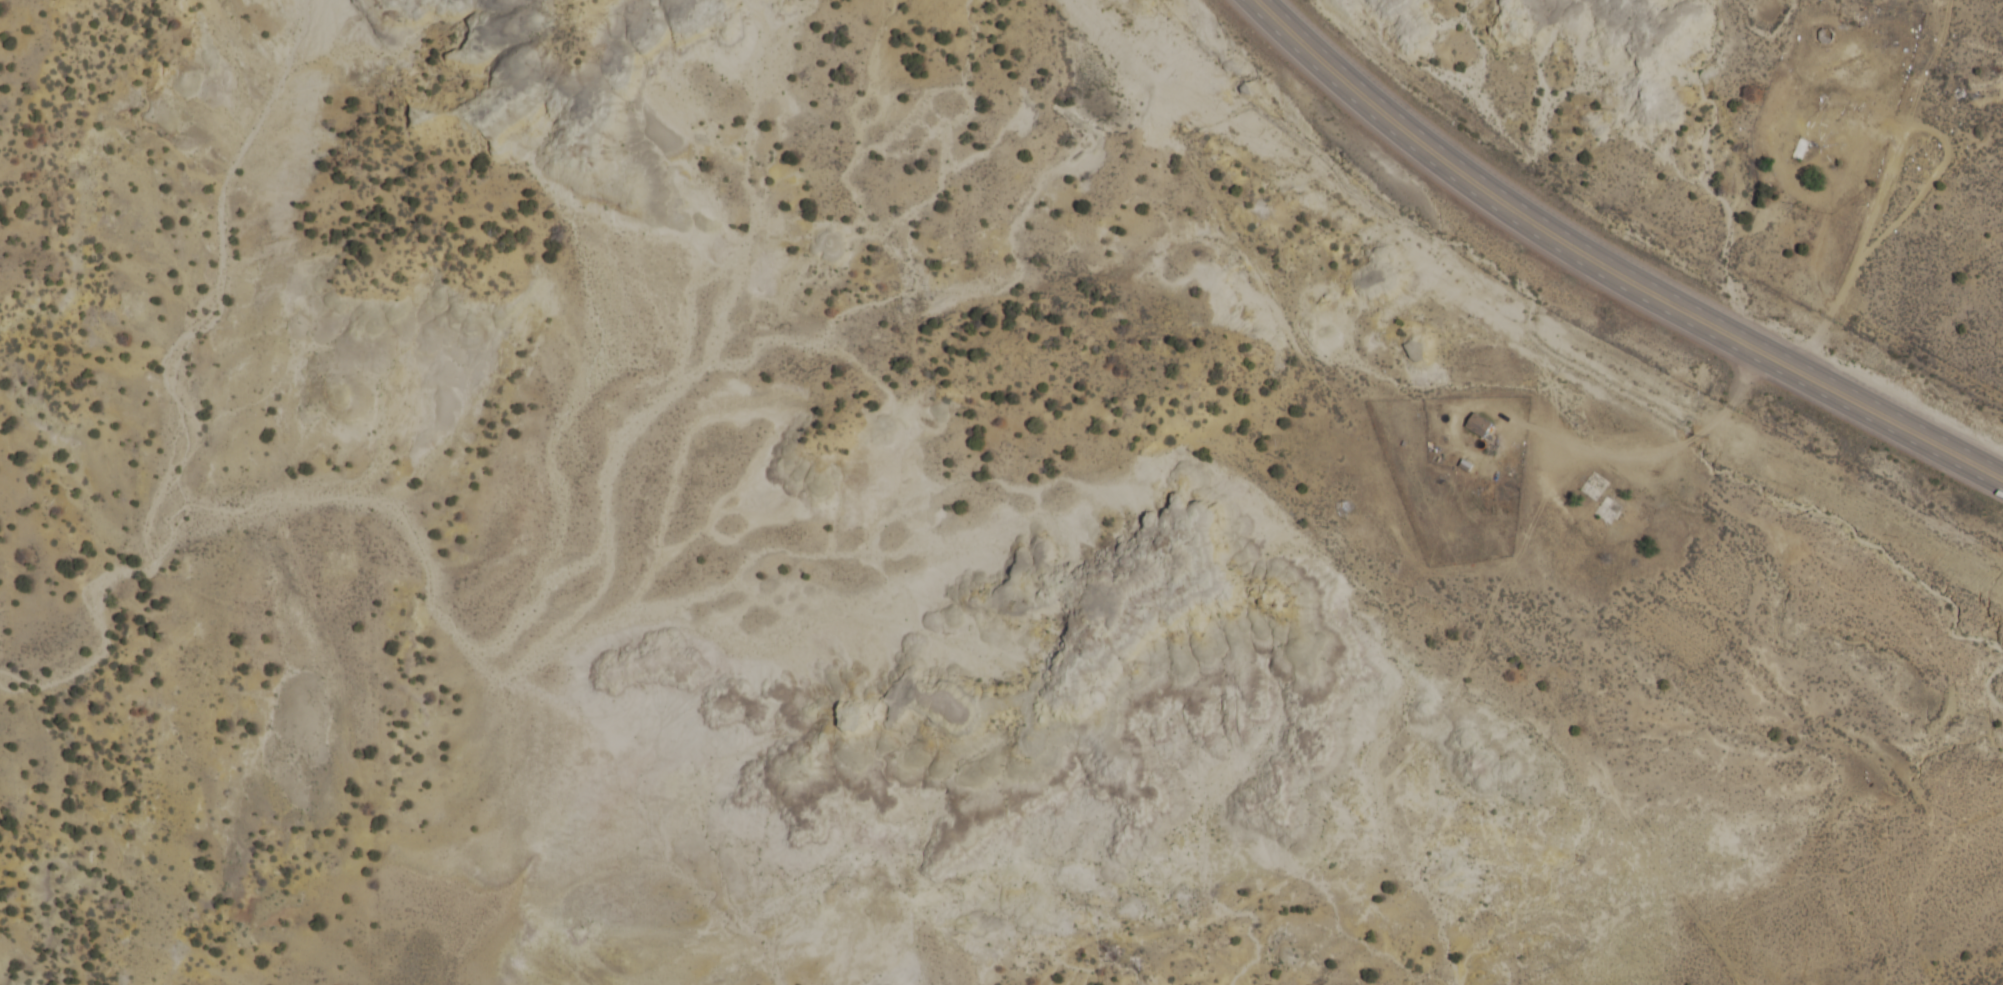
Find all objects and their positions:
building: (1798, 150)
road: (1883, 190)
road: (1617, 261)
road: (1601, 275)
building: (1478, 426)
building: (1607, 511)

